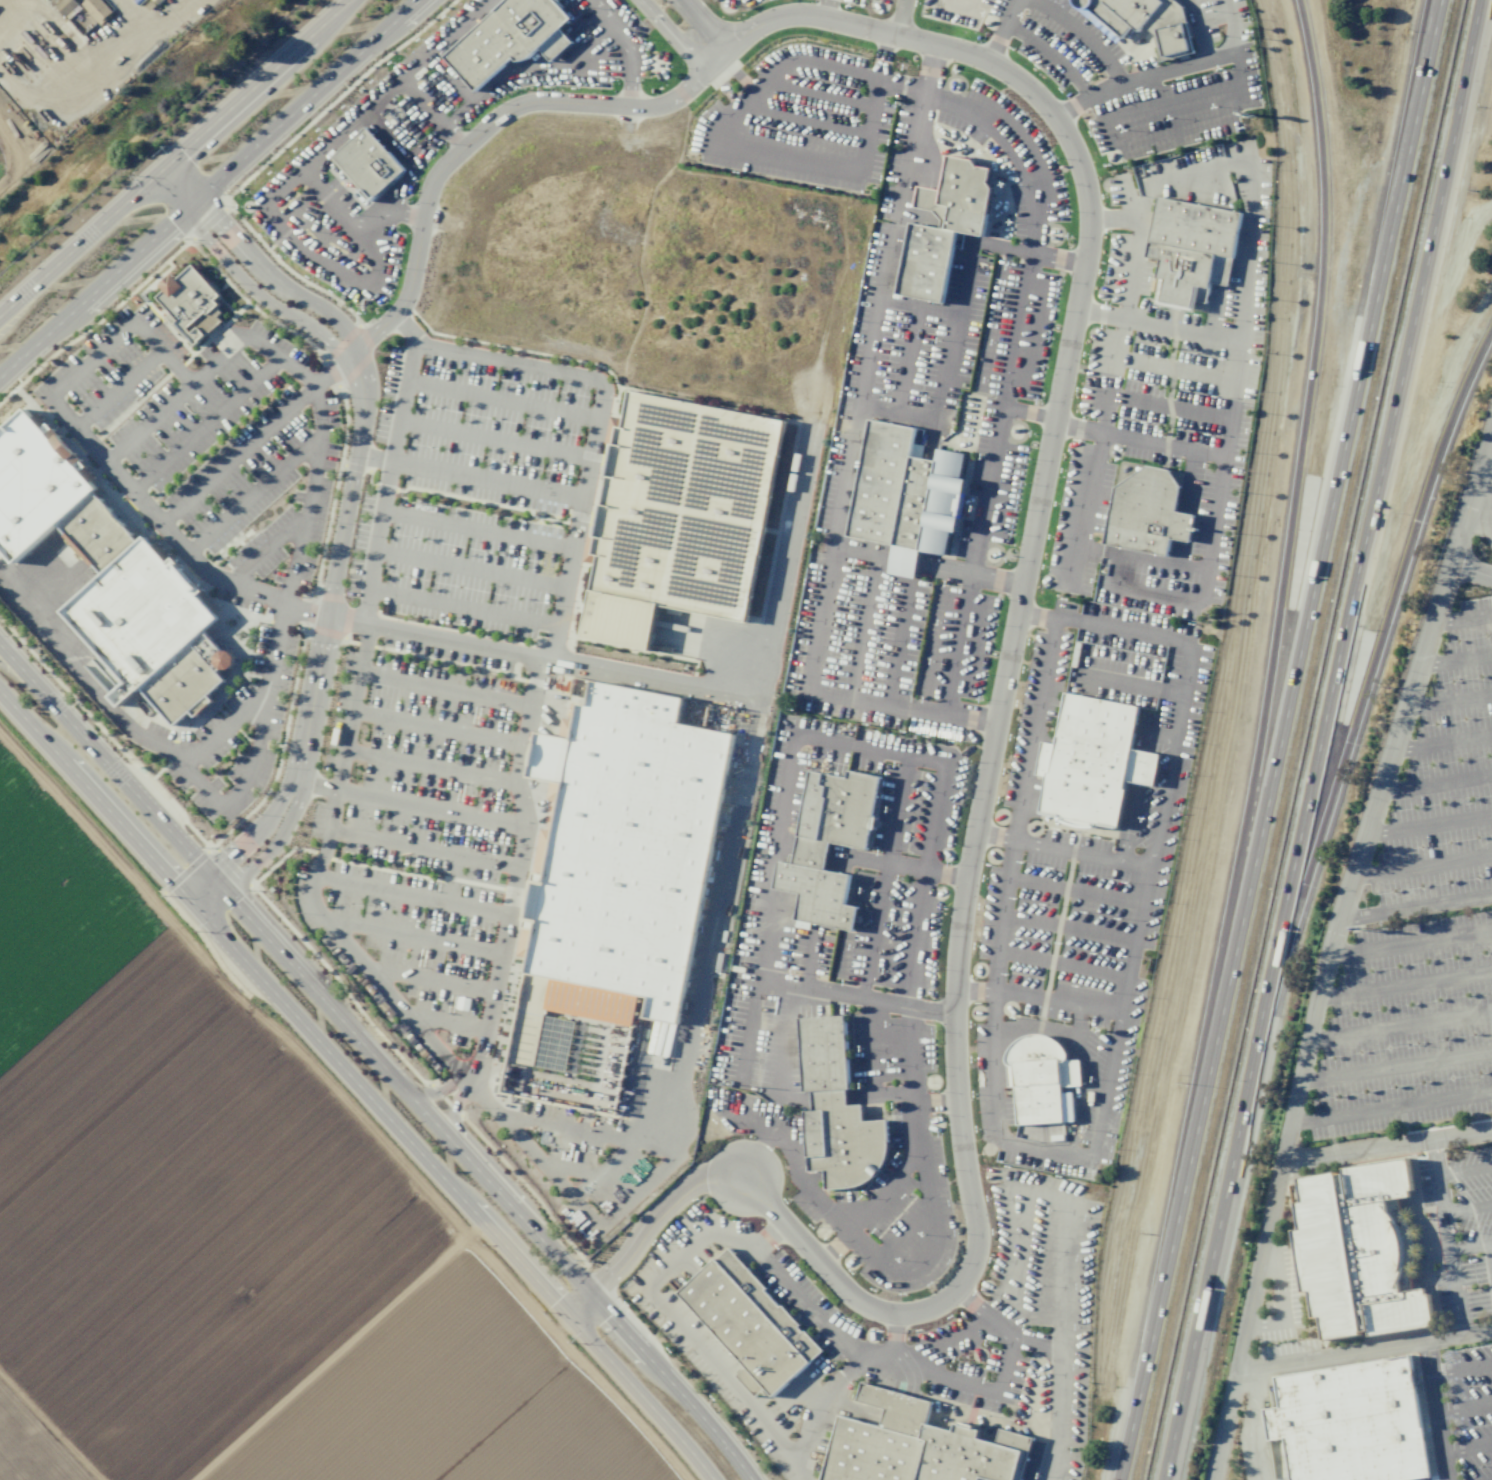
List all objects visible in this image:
building: (65, 6)
road: (958, 6)
building: (96, 10)
road: (899, 18)
building: (1145, 21)
road: (704, 27)
road: (999, 29)
road: (1194, 30)
road: (1083, 34)
road: (154, 36)
building: (509, 38)
road: (673, 38)
road: (1049, 53)
road: (777, 65)
road: (1167, 69)
road: (818, 94)
road: (806, 120)
road: (479, 134)
road: (174, 157)
building: (366, 166)
crop: (4, 167)
traffic signals: (161, 170)
road: (854, 171)
road: (209, 188)
building: (964, 195)
road: (1251, 195)
traffic signals: (197, 200)
building: (930, 203)
traffic signals: (182, 213)
building: (1189, 251)
road: (1134, 260)
building: (924, 261)
road: (256, 264)
road: (240, 277)
road: (883, 298)
building: (188, 301)
road: (1160, 327)
road: (1034, 338)
road: (906, 357)
road: (1176, 369)
road: (61, 383)
road: (1312, 385)
road: (116, 389)
road: (501, 400)
road: (938, 401)
road: (1000, 405)
road: (1168, 407)
road: (1027, 413)
road: (148, 423)
road: (206, 425)
parking lot: (212, 439)
road: (494, 439)
road: (1488, 449)
road: (237, 455)
road: (1479, 467)
road: (468, 475)
road: (350, 484)
road: (1483, 485)
road: (1085, 487)
road: (253, 494)
road: (310, 495)
building: (904, 495)
parking lot: (1488, 509)
building: (680, 512)
building: (1146, 512)
road: (1476, 522)
road: (476, 529)
road: (1490, 531)
road: (1076, 546)
road: (1209, 549)
road: (266, 550)
road: (831, 558)
road: (468, 569)
road: (1470, 570)
building: (107, 572)
road: (994, 580)
road: (865, 603)
road: (462, 608)
road: (1390, 614)
road: (1461, 619)
road: (436, 637)
road: (894, 646)
road: (549, 647)
road: (1455, 660)
road: (85, 682)
parking lot: (436, 687)
road: (442, 691)
road: (311, 698)
road: (1448, 701)
road: (435, 727)
parking lot: (232, 735)
road: (1150, 735)
road: (340, 738)
road: (1174, 740)
road: (1277, 740)
road: (816, 741)
road: (1332, 741)
road: (1442, 742)
road: (989, 751)
road: (191, 758)
building: (1091, 761)
road: (427, 763)
road: (1137, 766)
road: (1436, 783)
road: (409, 803)
road: (1019, 803)
road: (896, 811)
road: (934, 818)
road: (1126, 822)
road: (1428, 825)
road: (994, 836)
road: (241, 841)
road: (784, 844)
building: (827, 844)
building: (623, 845)
road: (810, 849)
road: (419, 850)
road: (1080, 854)
road: (263, 858)
road: (896, 865)
road: (1422, 866)
traffic signals: (206, 873)
road: (1074, 891)
traffic signals: (224, 893)
road: (410, 895)
traffic signals: (193, 904)
road: (1415, 907)
parking lot: (1423, 923)
road: (1068, 927)
road: (873, 930)
road: (410, 936)
road: (912, 938)
road: (1410, 941)
road: (1062, 964)
road: (705, 966)
road: (296, 970)
road: (429, 982)
road: (789, 983)
road: (1405, 983)
road: (1320, 988)
road: (229, 990)
road: (1037, 997)
road: (283, 1003)
building: (562, 1009)
road: (447, 1024)
road: (1400, 1024)
road: (780, 1052)
road: (1395, 1065)
building: (1039, 1077)
road: (910, 1078)
road: (878, 1096)
road: (827, 1100)
road: (1390, 1107)
building: (834, 1109)
road: (762, 1139)
road: (1386, 1145)
road: (1043, 1148)
road: (1465, 1170)
road: (1442, 1195)
road: (1468, 1209)
crop: (233, 1224)
road: (933, 1229)
road: (768, 1235)
building: (1356, 1249)
road: (1471, 1249)
road: (1491, 1252)
road: (1457, 1295)
traffic signals: (591, 1296)
road: (579, 1305)
traffic signals: (568, 1315)
road: (983, 1315)
building: (749, 1321)
road: (844, 1348)
road: (337, 1350)
road: (890, 1352)
road: (1332, 1356)
road: (1462, 1365)
road: (1004, 1366)
road: (944, 1376)
road: (1433, 1378)
road: (673, 1385)
road: (641, 1396)
road: (1465, 1406)
parking lot: (1468, 1408)
building: (1349, 1422)
road: (1259, 1424)
building: (916, 1445)
road: (1468, 1448)

